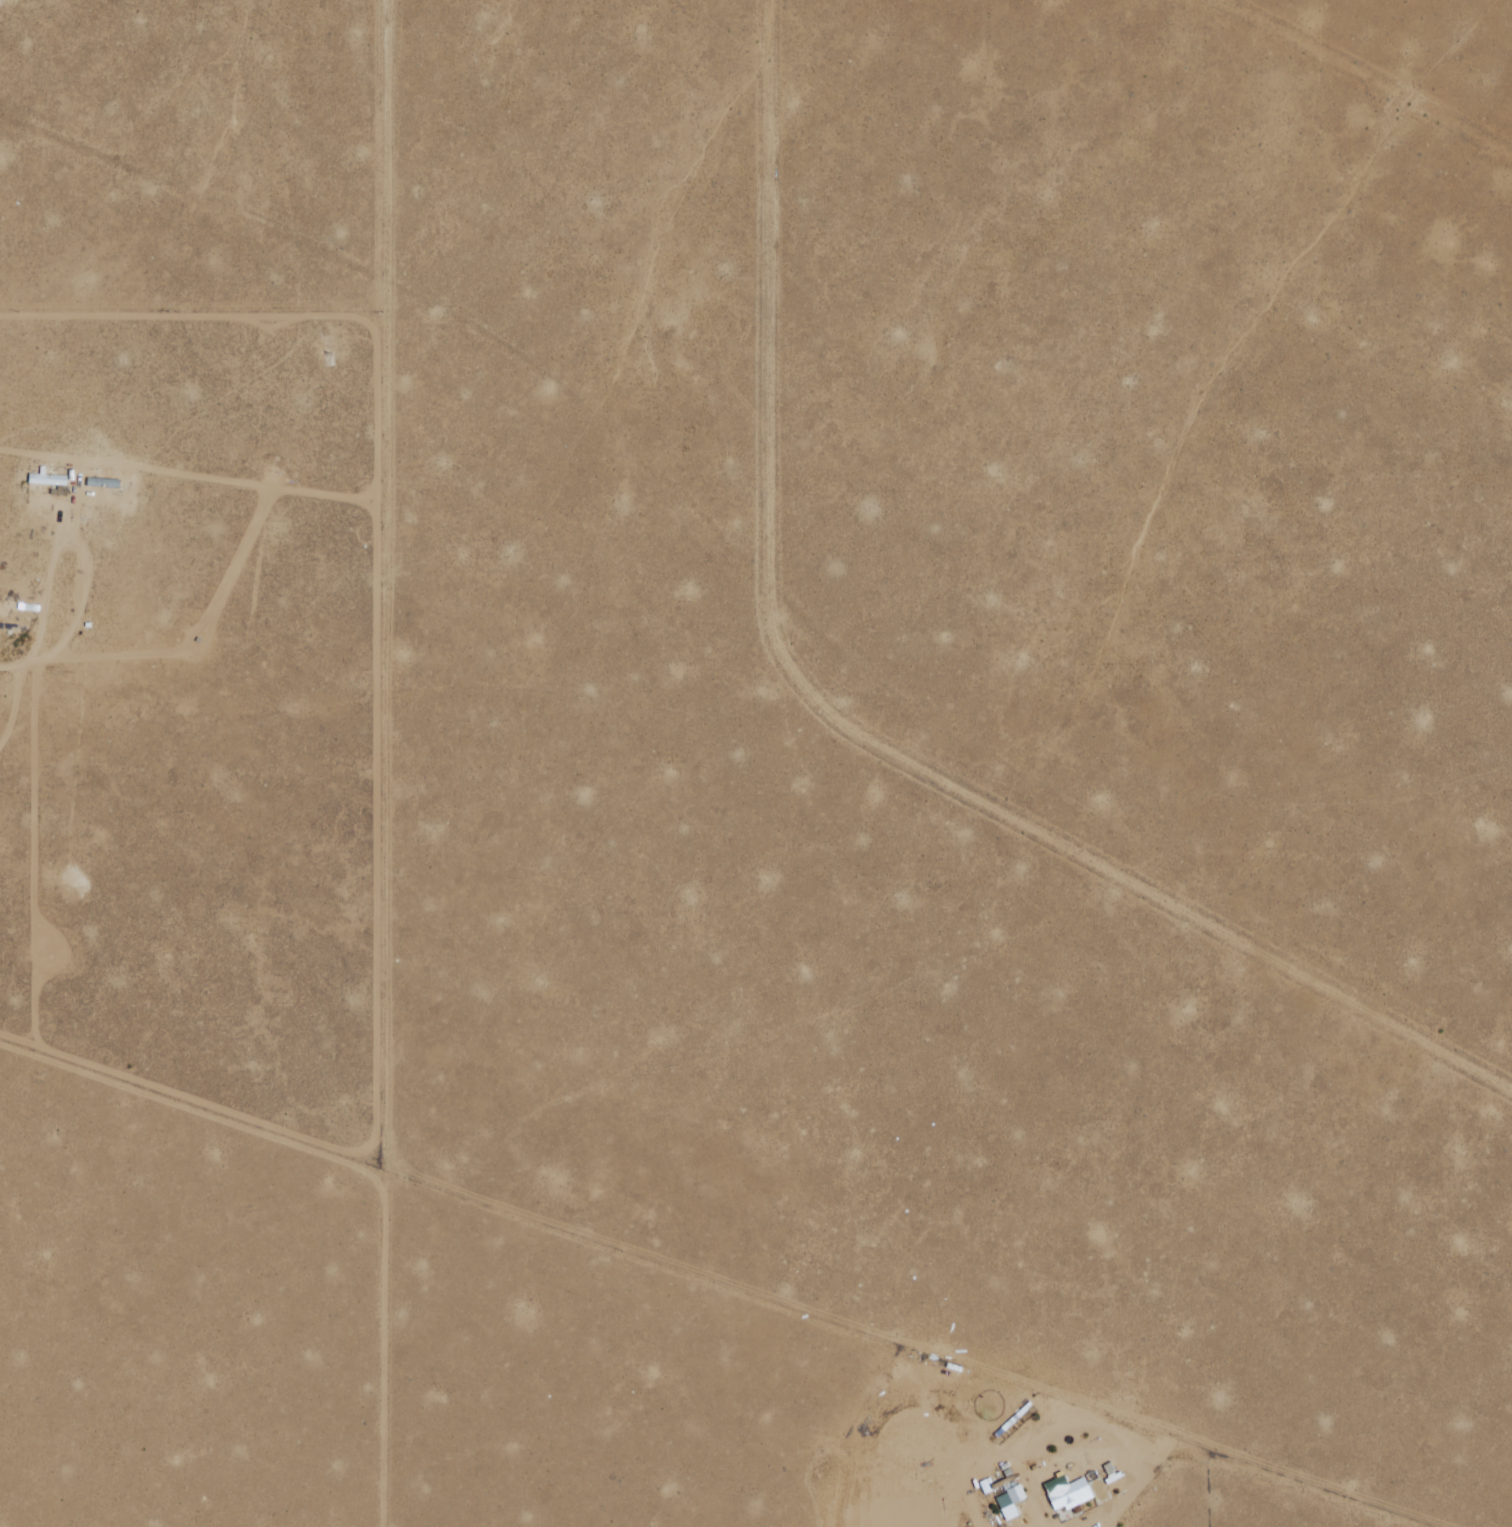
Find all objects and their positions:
road: (1388, 70)
building: (51, 475)
building: (103, 480)
road: (117, 499)
road: (10, 665)
road: (845, 730)
road: (392, 763)
road: (718, 1284)
road: (1092, 1426)
building: (1080, 1496)
building: (1014, 1498)
road: (829, 1505)

